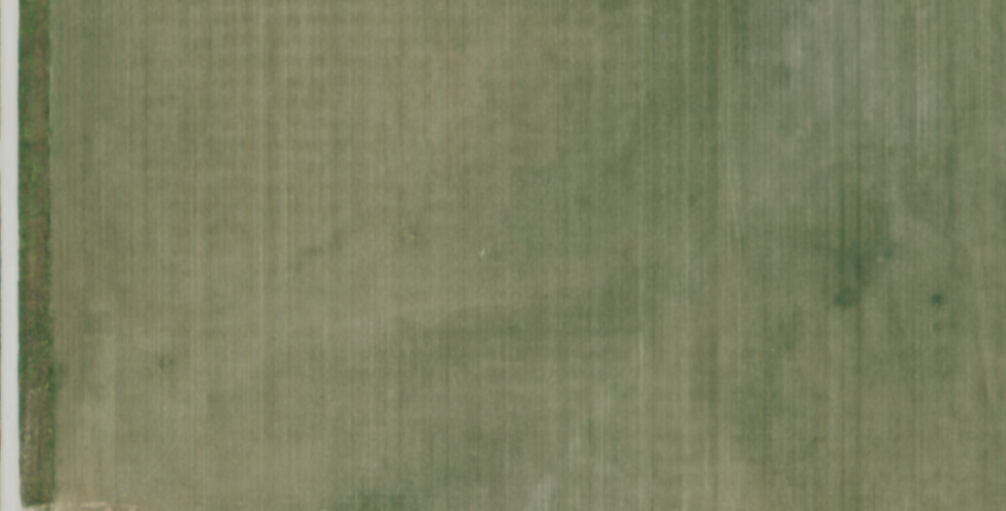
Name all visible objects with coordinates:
road: (6, 255)
crop: (526, 255)

